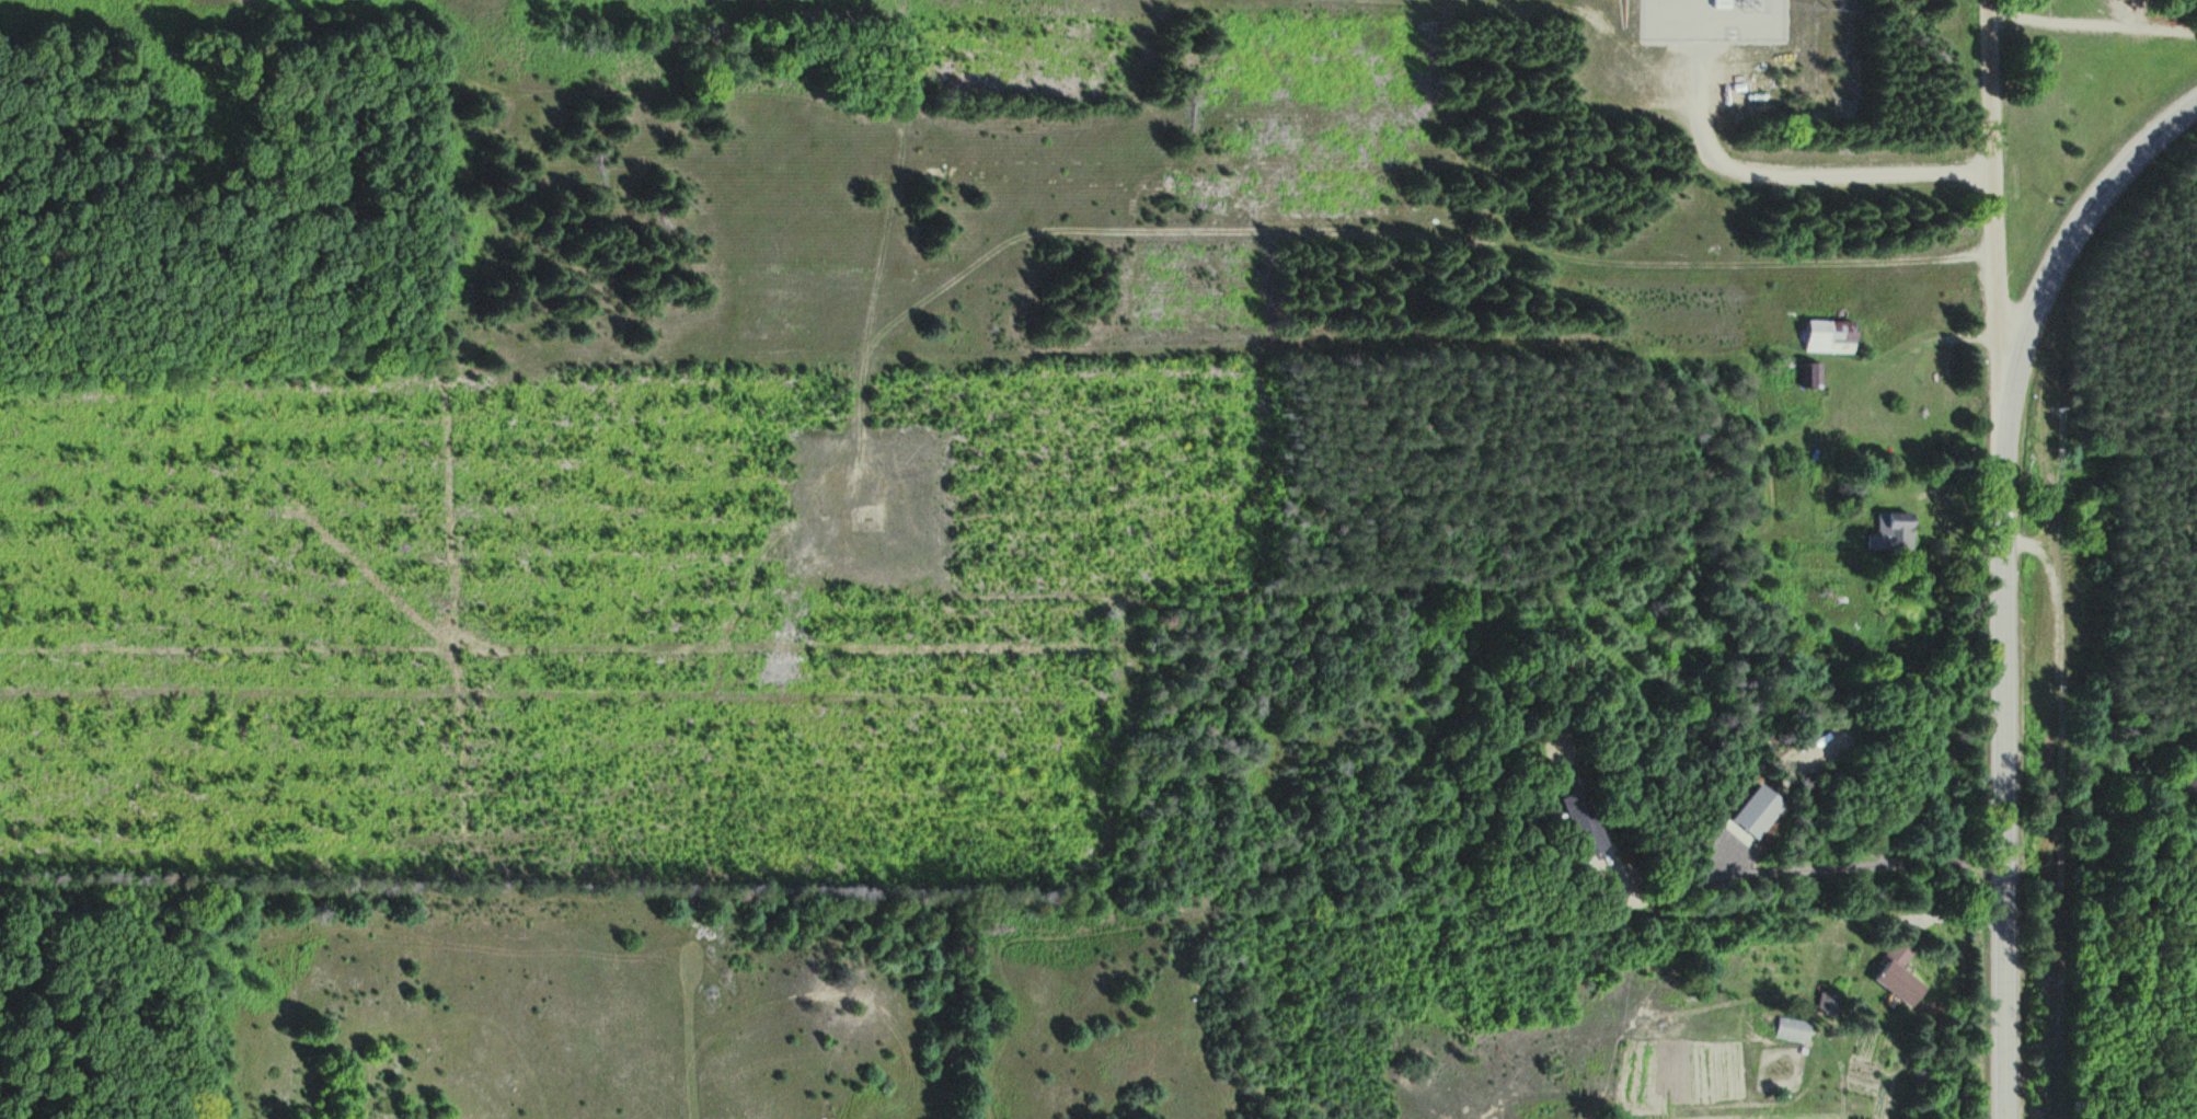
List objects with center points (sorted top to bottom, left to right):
power substation: (1715, 19)
road: (2094, 23)
road: (1792, 175)
road: (1992, 203)
building: (1837, 335)
building: (1817, 373)
building: (1901, 520)
road: (2004, 580)
building: (2194, 789)
building: (1902, 974)
building: (1834, 1002)
building: (1797, 1029)

